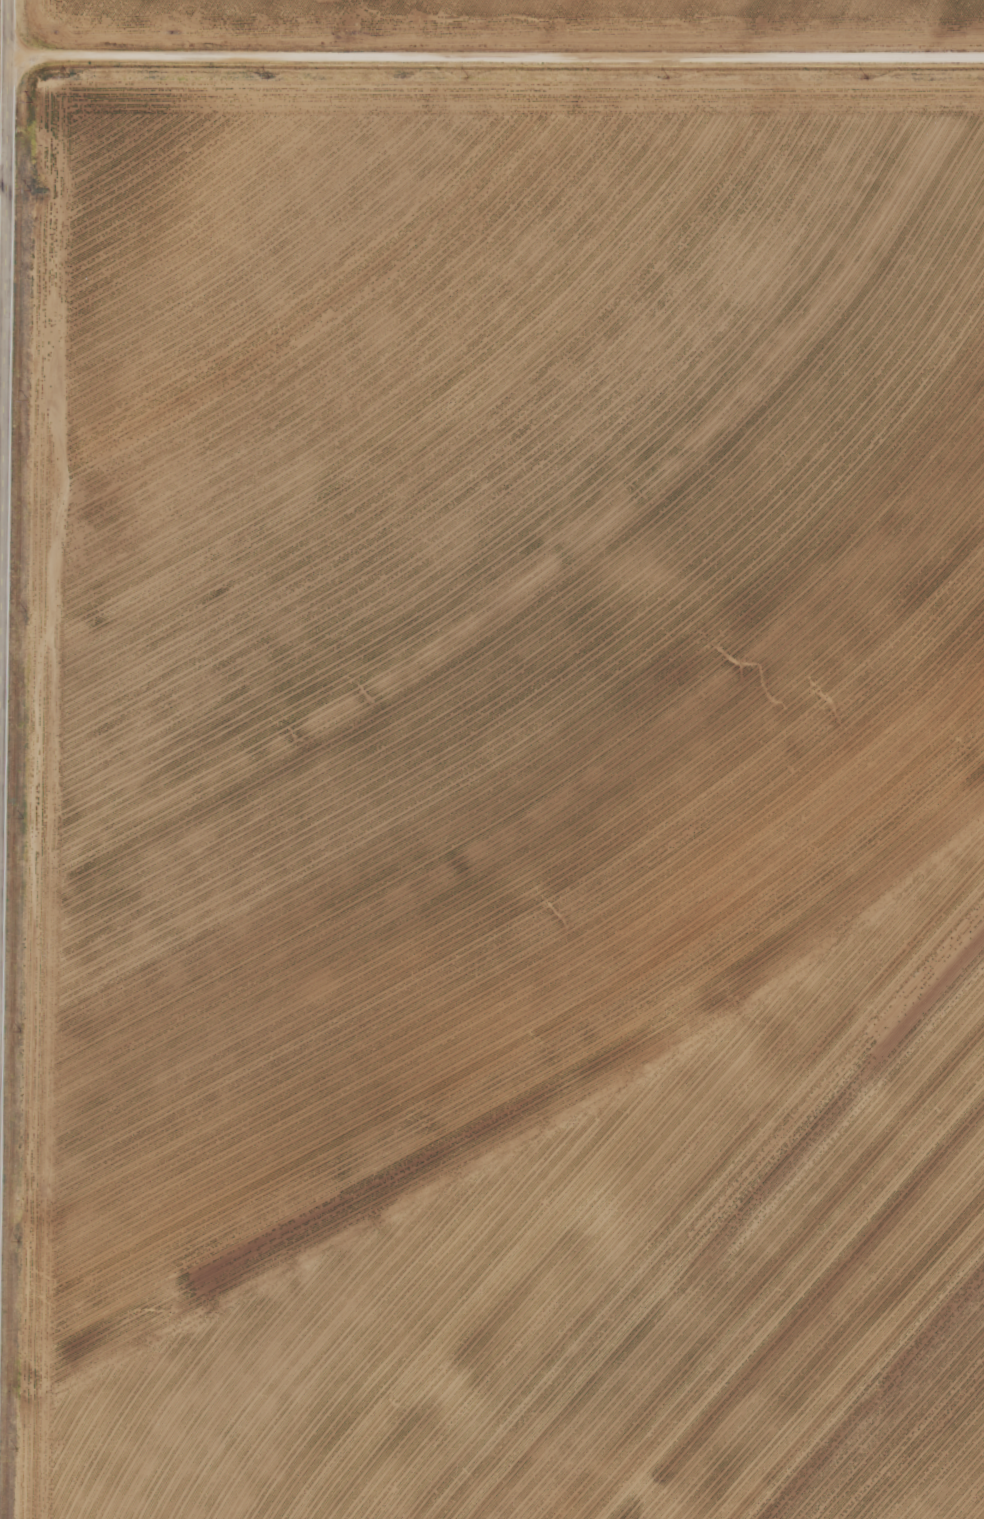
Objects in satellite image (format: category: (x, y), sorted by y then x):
road: (496, 61)
road: (4, 172)
road: (5, 397)

